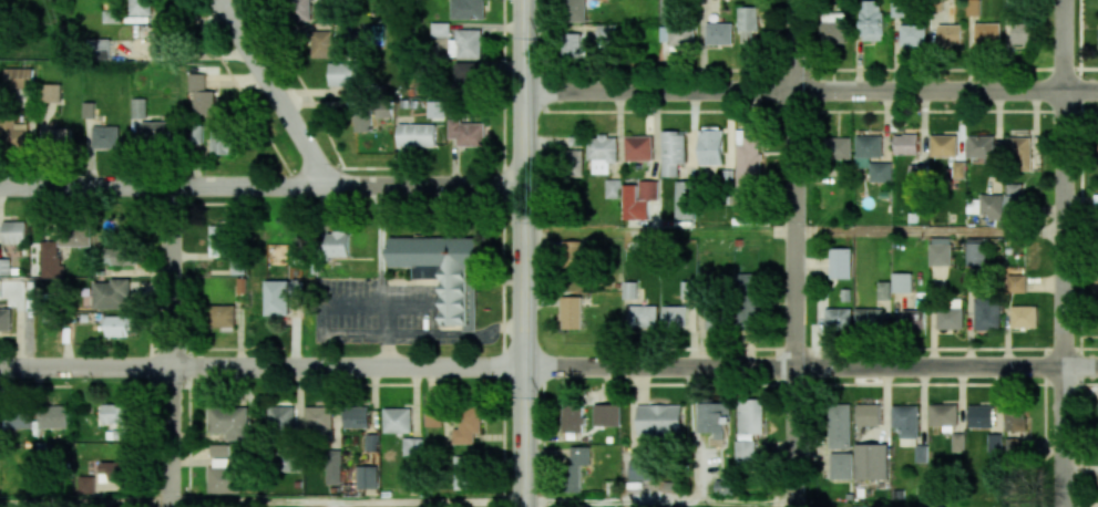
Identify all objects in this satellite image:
building: (140, 7)
building: (973, 7)
building: (466, 9)
building: (302, 10)
building: (574, 10)
building: (871, 20)
building: (747, 24)
building: (833, 28)
building: (440, 29)
building: (718, 33)
building: (950, 34)
building: (987, 34)
building: (1022, 34)
building: (606, 35)
building: (676, 35)
building: (912, 35)
building: (157, 39)
building: (322, 43)
building: (465, 44)
building: (573, 44)
building: (99, 48)
building: (345, 75)
building: (466, 76)
building: (19, 77)
building: (51, 92)
road: (810, 92)
road: (275, 93)
building: (201, 94)
building: (138, 108)
building: (435, 108)
building: (89, 110)
building: (363, 121)
building: (156, 132)
building: (468, 133)
building: (13, 134)
building: (196, 134)
building: (415, 135)
building: (105, 136)
building: (60, 137)
building: (219, 142)
building: (905, 144)
building: (943, 145)
building: (710, 146)
building: (637, 147)
building: (839, 148)
building: (602, 152)
building: (673, 152)
building: (1018, 153)
building: (862, 159)
building: (747, 162)
building: (573, 163)
building: (916, 175)
road: (261, 186)
building: (613, 188)
building: (1014, 198)
building: (638, 199)
building: (683, 200)
building: (985, 206)
building: (1096, 211)
road: (658, 229)
road: (930, 230)
building: (13, 231)
building: (218, 239)
building: (338, 244)
building: (940, 251)
road: (523, 252)
building: (572, 252)
building: (975, 252)
road: (794, 253)
road: (1065, 253)
building: (119, 256)
building: (50, 261)
building: (840, 262)
building: (4, 267)
building: (441, 268)
building: (902, 282)
building: (1016, 283)
building: (0, 289)
building: (629, 290)
building: (883, 290)
building: (111, 293)
building: (278, 296)
building: (748, 300)
building: (571, 312)
building: (987, 313)
building: (222, 315)
building: (643, 315)
building: (675, 317)
building: (838, 317)
building: (1024, 317)
building: (869, 318)
building: (913, 319)
building: (950, 319)
building: (6, 320)
building: (117, 325)
road: (442, 335)
road: (172, 346)
road: (261, 365)
road: (810, 365)
building: (433, 414)
building: (606, 414)
building: (868, 414)
building: (943, 414)
building: (54, 416)
building: (356, 416)
building: (750, 416)
building: (981, 416)
building: (18, 417)
building: (573, 417)
building: (715, 417)
building: (115, 418)
building: (319, 418)
building: (397, 420)
building: (659, 420)
building: (1016, 420)
building: (229, 421)
building: (280, 421)
building: (906, 423)
building: (840, 425)
building: (468, 426)
building: (957, 442)
building: (371, 443)
building: (994, 443)
building: (219, 449)
building: (746, 453)
building: (921, 454)
building: (871, 462)
building: (290, 463)
building: (840, 465)
building: (332, 466)
building: (577, 466)
building: (642, 468)
building: (464, 472)
building: (1097, 473)
building: (367, 476)
building: (224, 479)
building: (85, 484)
building: (724, 487)
road: (658, 501)
road: (85, 503)
road: (347, 503)

